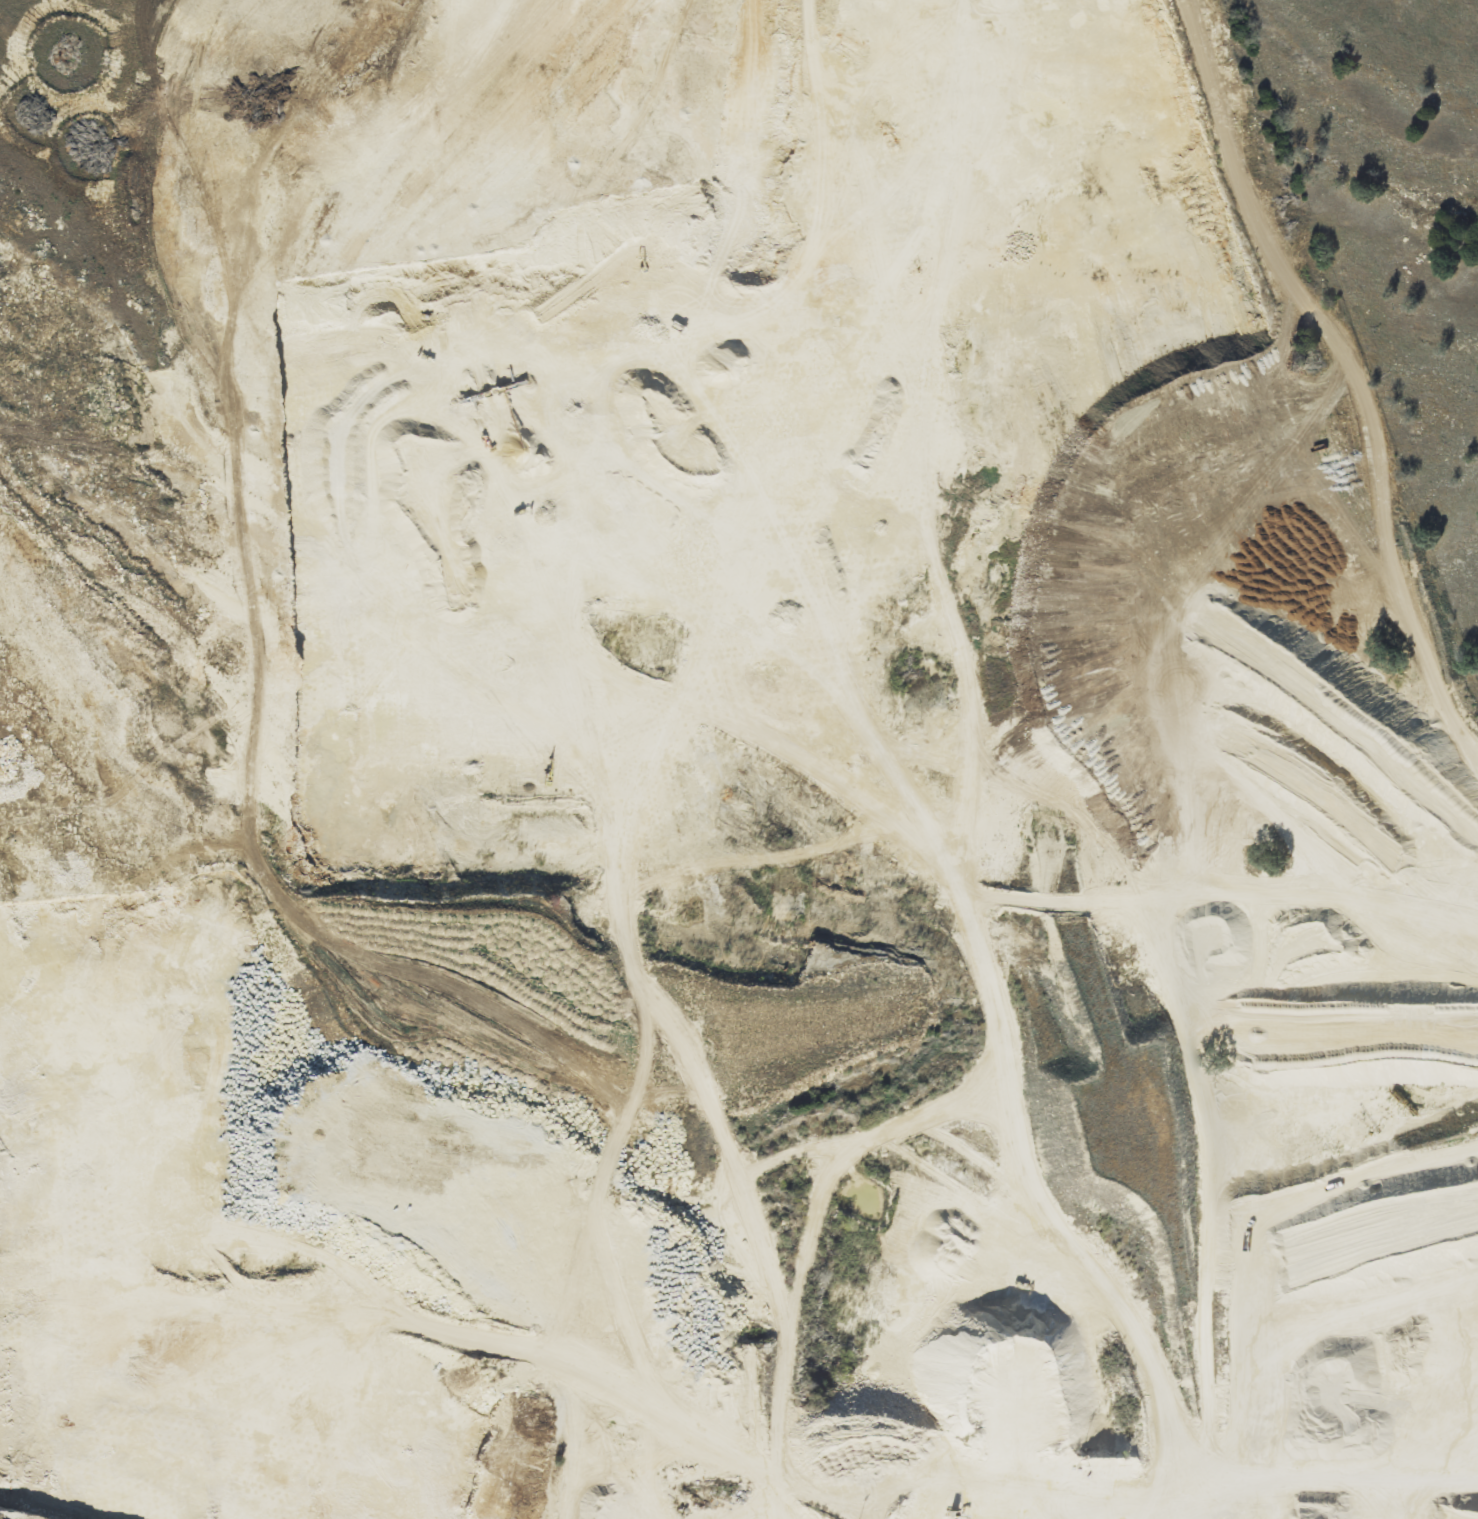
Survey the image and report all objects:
quarry: (826, 925)

